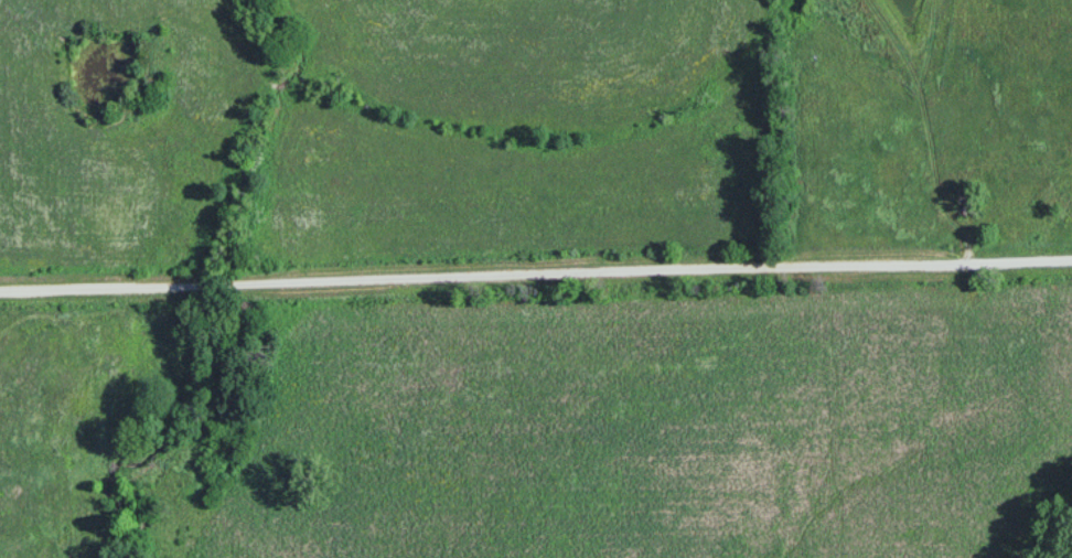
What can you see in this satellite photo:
road: (535, 273)

